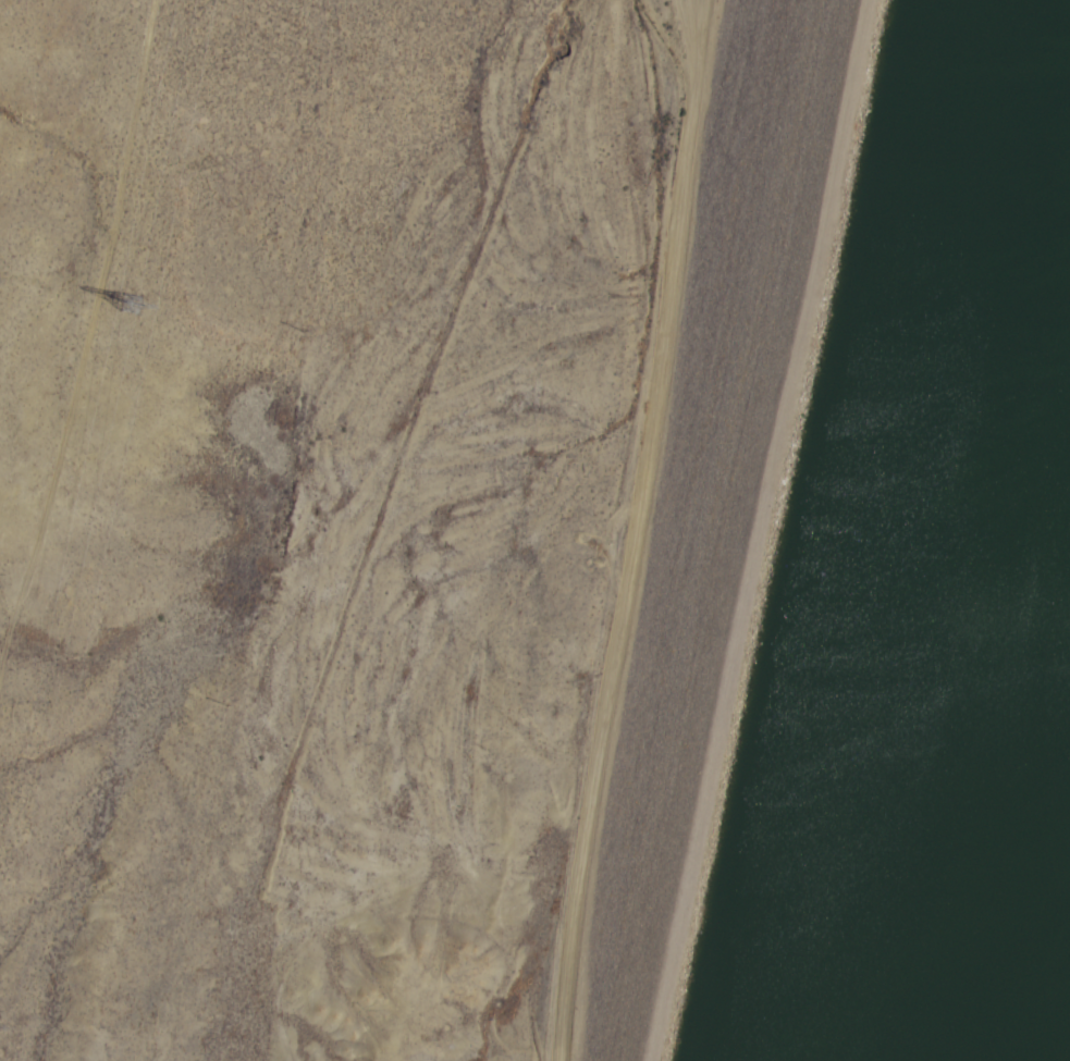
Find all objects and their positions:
power tower: (128, 296)
road: (618, 529)
road: (778, 530)
dam: (807, 530)

